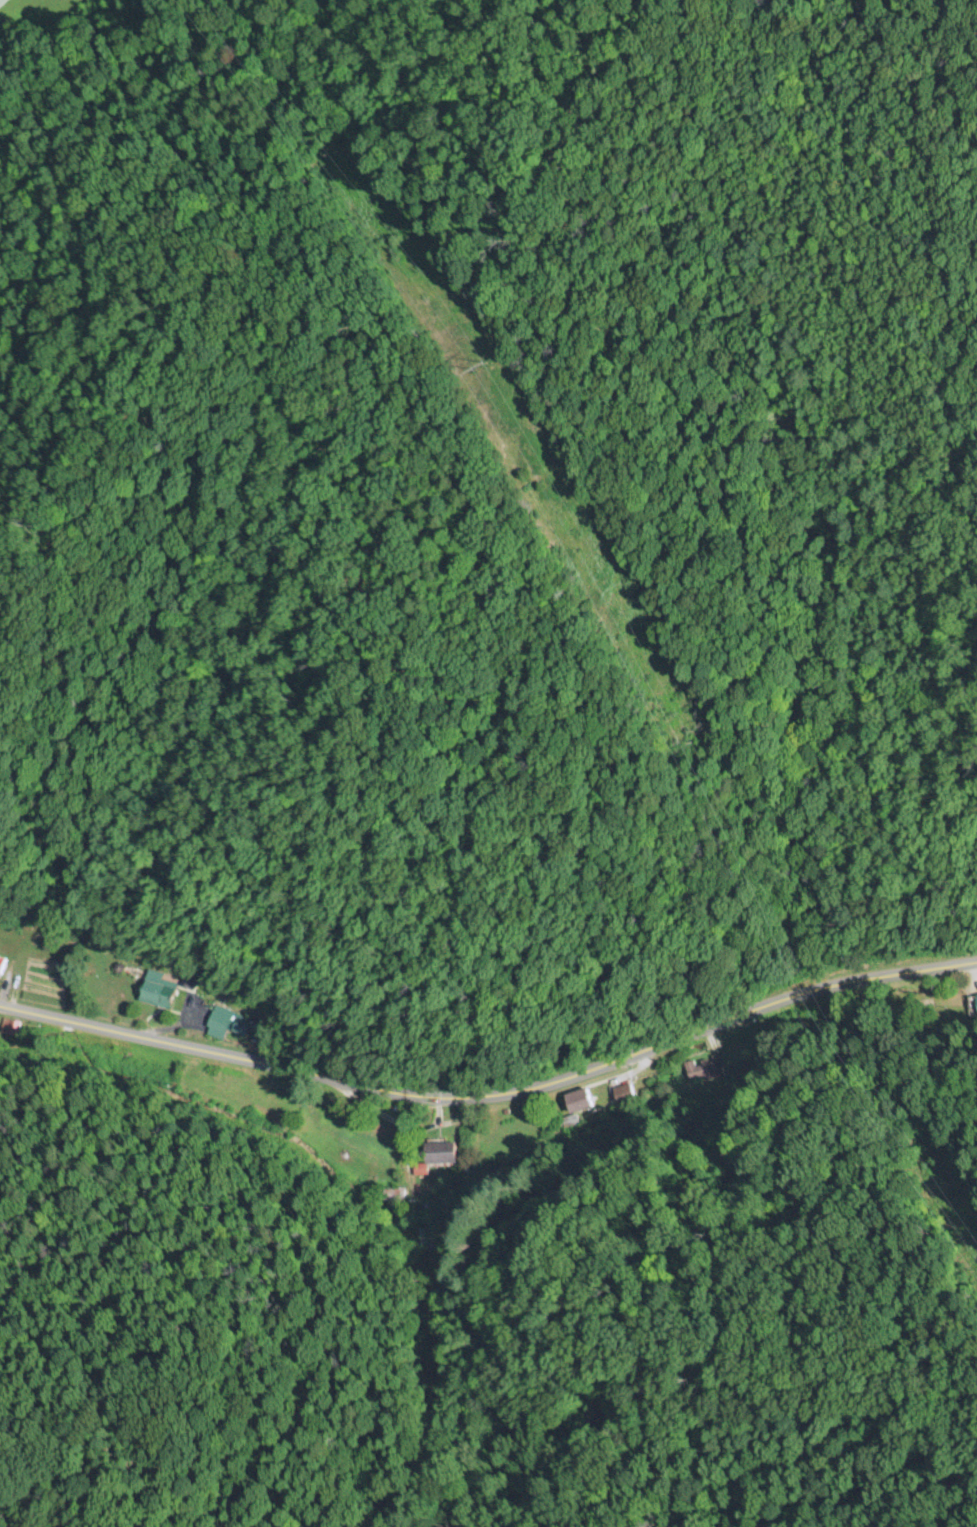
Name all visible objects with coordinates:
building: (0, 960)
building: (156, 989)
building: (973, 1003)
building: (225, 1022)
building: (705, 1066)
road: (493, 1094)
building: (578, 1100)
building: (438, 1153)
building: (394, 1193)

